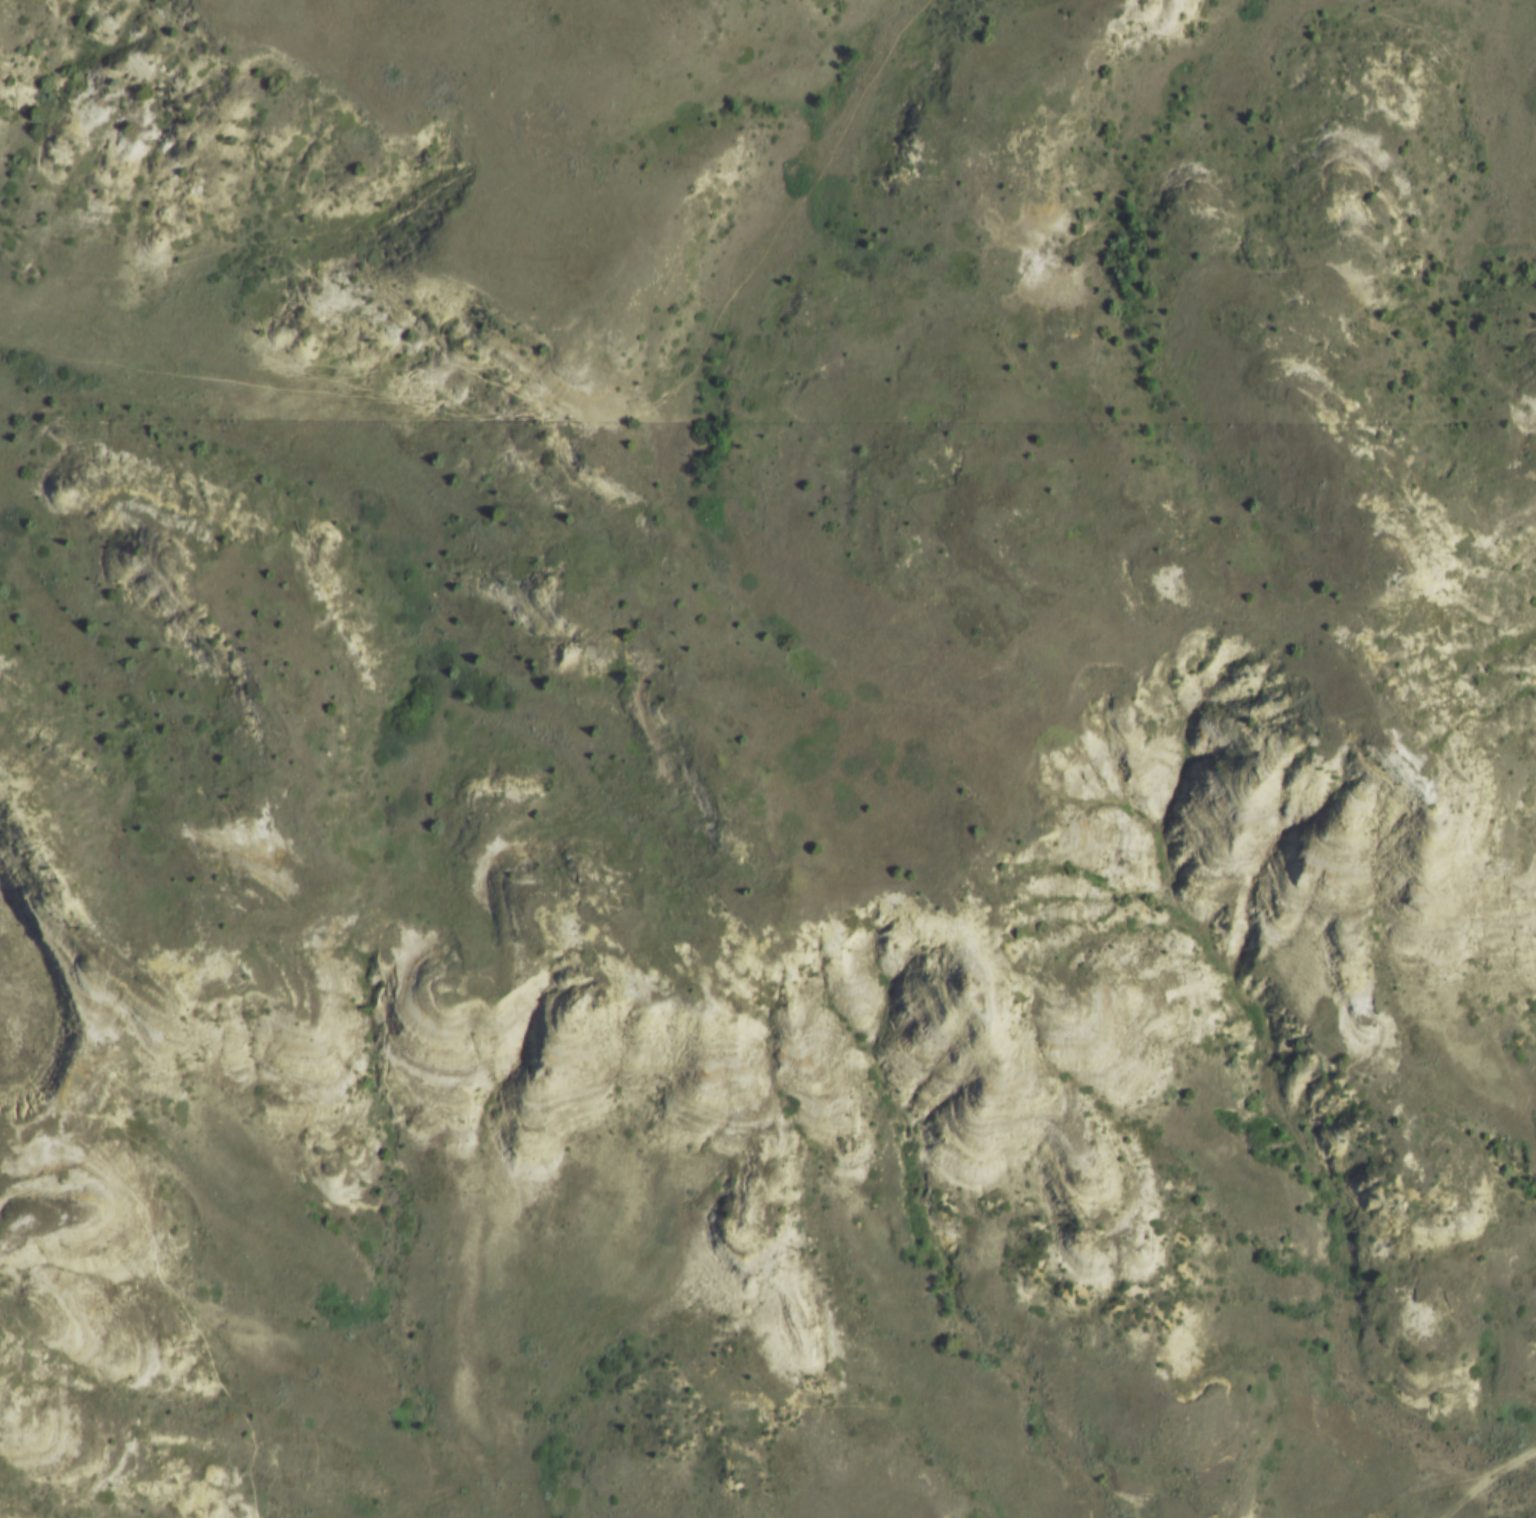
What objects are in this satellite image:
road: (1489, 1480)

